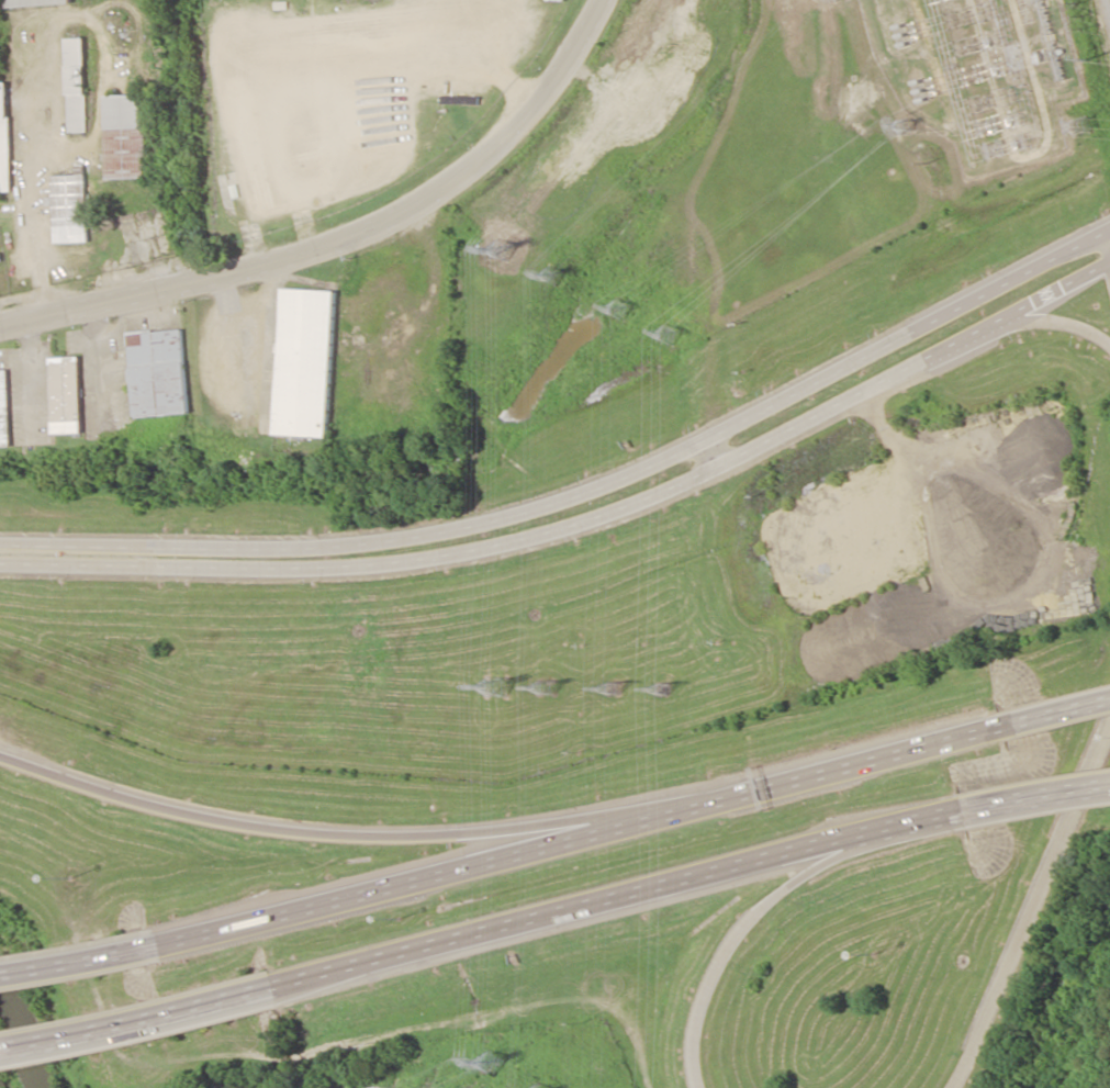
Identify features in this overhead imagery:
railway: (1109, 1)
building: (34, 2)
power substation: (977, 72)
building: (76, 85)
power tower: (901, 124)
power tower: (1078, 126)
building: (127, 136)
building: (3, 138)
building: (69, 207)
road: (348, 242)
power tower: (501, 250)
road: (1103, 251)
power tower: (549, 276)
power tower: (618, 310)
road: (1052, 323)
road: (919, 330)
power tower: (664, 335)
building: (304, 361)
road: (918, 368)
building: (157, 372)
building: (64, 394)
building: (3, 410)
road: (373, 538)
road: (371, 567)
power tower: (494, 685)
power tower: (545, 686)
power tower: (613, 687)
power tower: (661, 688)
road: (1057, 714)
road: (1038, 798)
road: (904, 829)
road: (348, 833)
road: (583, 839)
road: (1034, 912)
road: (557, 918)
road: (729, 944)
road: (80, 965)
road: (136, 1021)
power tower: (489, 1062)

